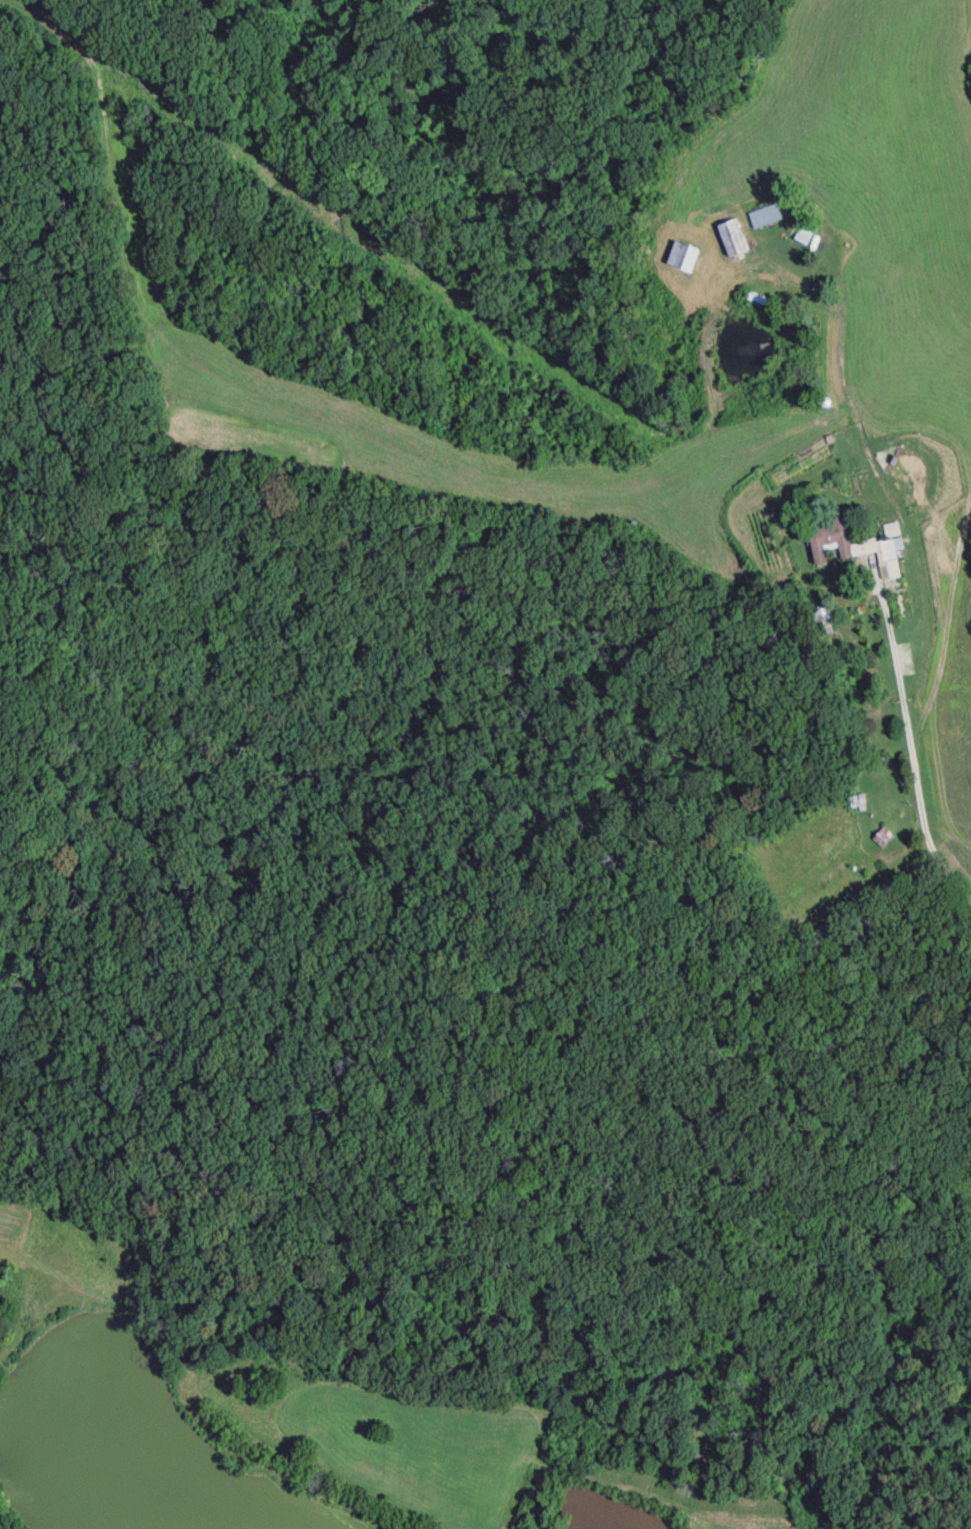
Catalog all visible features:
building: (735, 240)
building: (685, 258)
building: (893, 554)
road: (863, 586)
building: (819, 617)
building: (858, 803)

